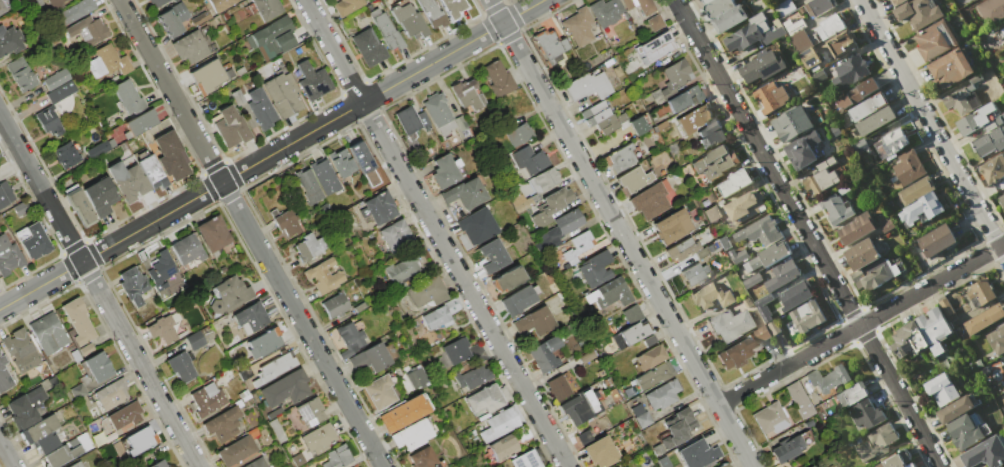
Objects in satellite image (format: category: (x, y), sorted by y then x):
building: (34, 0)
building: (794, 0)
building: (158, 2)
building: (899, 2)
building: (56, 4)
building: (221, 4)
building: (627, 4)
building: (3, 6)
building: (348, 6)
building: (819, 6)
building: (452, 7)
building: (717, 7)
building: (783, 7)
building: (267, 9)
building: (991, 10)
building: (73, 12)
building: (606, 12)
building: (432, 13)
building: (917, 13)
building: (651, 14)
building: (201, 18)
building: (729, 18)
building: (172, 19)
building: (408, 20)
building: (581, 27)
building: (829, 27)
building: (88, 30)
building: (386, 30)
building: (1003, 31)
building: (752, 35)
building: (273, 36)
building: (936, 40)
building: (11, 41)
building: (550, 43)
building: (842, 44)
building: (191, 47)
building: (368, 48)
building: (655, 48)
building: (809, 57)
building: (108, 62)
building: (762, 67)
building: (951, 68)
building: (853, 70)
building: (21, 74)
building: (676, 75)
building: (209, 77)
building: (498, 79)
building: (57, 80)
building: (312, 81)
building: (587, 86)
building: (61, 91)
building: (857, 93)
building: (465, 94)
building: (282, 95)
building: (236, 96)
building: (770, 97)
building: (963, 97)
building: (129, 99)
building: (685, 101)
building: (867, 107)
building: (260, 109)
building: (437, 109)
building: (594, 113)
building: (693, 119)
building: (974, 119)
building: (411, 120)
building: (142, 121)
building: (876, 121)
building: (792, 123)
building: (50, 124)
building: (607, 124)
building: (638, 125)
road: (931, 129)
building: (233, 131)
road: (311, 131)
building: (517, 133)
building: (710, 135)
building: (990, 141)
building: (894, 142)
building: (98, 149)
building: (802, 151)
building: (68, 156)
building: (170, 156)
building: (621, 158)
building: (530, 160)
building: (340, 162)
building: (362, 162)
building: (713, 164)
building: (151, 168)
building: (908, 168)
building: (993, 168)
building: (444, 172)
building: (324, 176)
building: (821, 176)
building: (633, 180)
building: (129, 181)
building: (538, 182)
building: (732, 183)
building: (308, 186)
road: (41, 190)
building: (916, 190)
building: (5, 193)
building: (464, 193)
building: (100, 196)
building: (1001, 199)
building: (650, 201)
building: (523, 204)
building: (78, 205)
building: (552, 206)
building: (744, 206)
building: (380, 207)
building: (836, 208)
building: (921, 208)
building: (711, 213)
building: (287, 223)
building: (886, 225)
building: (476, 226)
building: (673, 226)
building: (561, 227)
building: (857, 228)
building: (757, 231)
building: (213, 233)
road: (250, 233)
road: (435, 233)
road: (620, 233)
road: (806, 233)
building: (396, 236)
building: (937, 240)
building: (34, 242)
building: (723, 242)
building: (308, 247)
building: (578, 247)
building: (187, 249)
building: (682, 249)
building: (861, 254)
building: (738, 255)
building: (9, 256)
building: (492, 256)
building: (767, 256)
building: (161, 268)
building: (403, 269)
building: (595, 269)
building: (694, 273)
building: (781, 274)
building: (872, 275)
building: (323, 276)
building: (507, 279)
building: (752, 280)
road: (41, 285)
building: (133, 285)
building: (427, 292)
building: (982, 292)
building: (612, 293)
building: (229, 294)
building: (794, 295)
building: (711, 296)
building: (519, 299)
building: (334, 306)
building: (763, 312)
building: (441, 314)
building: (805, 315)
building: (250, 316)
building: (984, 318)
building: (78, 321)
building: (535, 321)
road: (860, 323)
building: (731, 324)
building: (634, 326)
building: (774, 327)
building: (934, 328)
building: (162, 330)
building: (48, 333)
building: (762, 333)
building: (349, 339)
building: (904, 339)
building: (996, 339)
building: (195, 340)
building: (265, 342)
building: (20, 350)
building: (463, 350)
building: (735, 353)
building: (545, 354)
building: (1003, 356)
building: (587, 357)
building: (651, 358)
building: (370, 359)
road: (139, 365)
building: (181, 366)
building: (95, 367)
building: (274, 369)
building: (655, 376)
building: (5, 377)
building: (829, 378)
building: (417, 379)
building: (474, 379)
building: (557, 387)
building: (286, 389)
building: (941, 389)
building: (379, 392)
building: (111, 393)
building: (663, 394)
building: (850, 395)
building: (488, 398)
building: (208, 399)
building: (800, 400)
building: (27, 407)
building: (581, 407)
building: (818, 408)
building: (956, 409)
building: (309, 413)
building: (867, 413)
building: (403, 414)
building: (125, 415)
building: (641, 416)
building: (770, 418)
building: (223, 424)
building: (501, 424)
building: (809, 424)
building: (679, 428)
building: (38, 429)
building: (277, 430)
building: (966, 432)
building: (411, 435)
building: (318, 439)
building: (139, 441)
building: (875, 441)
building: (47, 443)
building: (503, 450)
building: (659, 450)
building: (786, 450)
building: (236, 451)
building: (600, 452)
building: (985, 453)
building: (698, 454)
building: (61, 455)
road: (6, 456)
building: (337, 457)
building: (297, 459)
building: (424, 459)
building: (528, 459)
building: (896, 460)
building: (256, 463)
building: (76, 464)
building: (160, 464)
building: (724, 465)
building: (910, 465)
building: (123, 466)
building: (810, 466)

